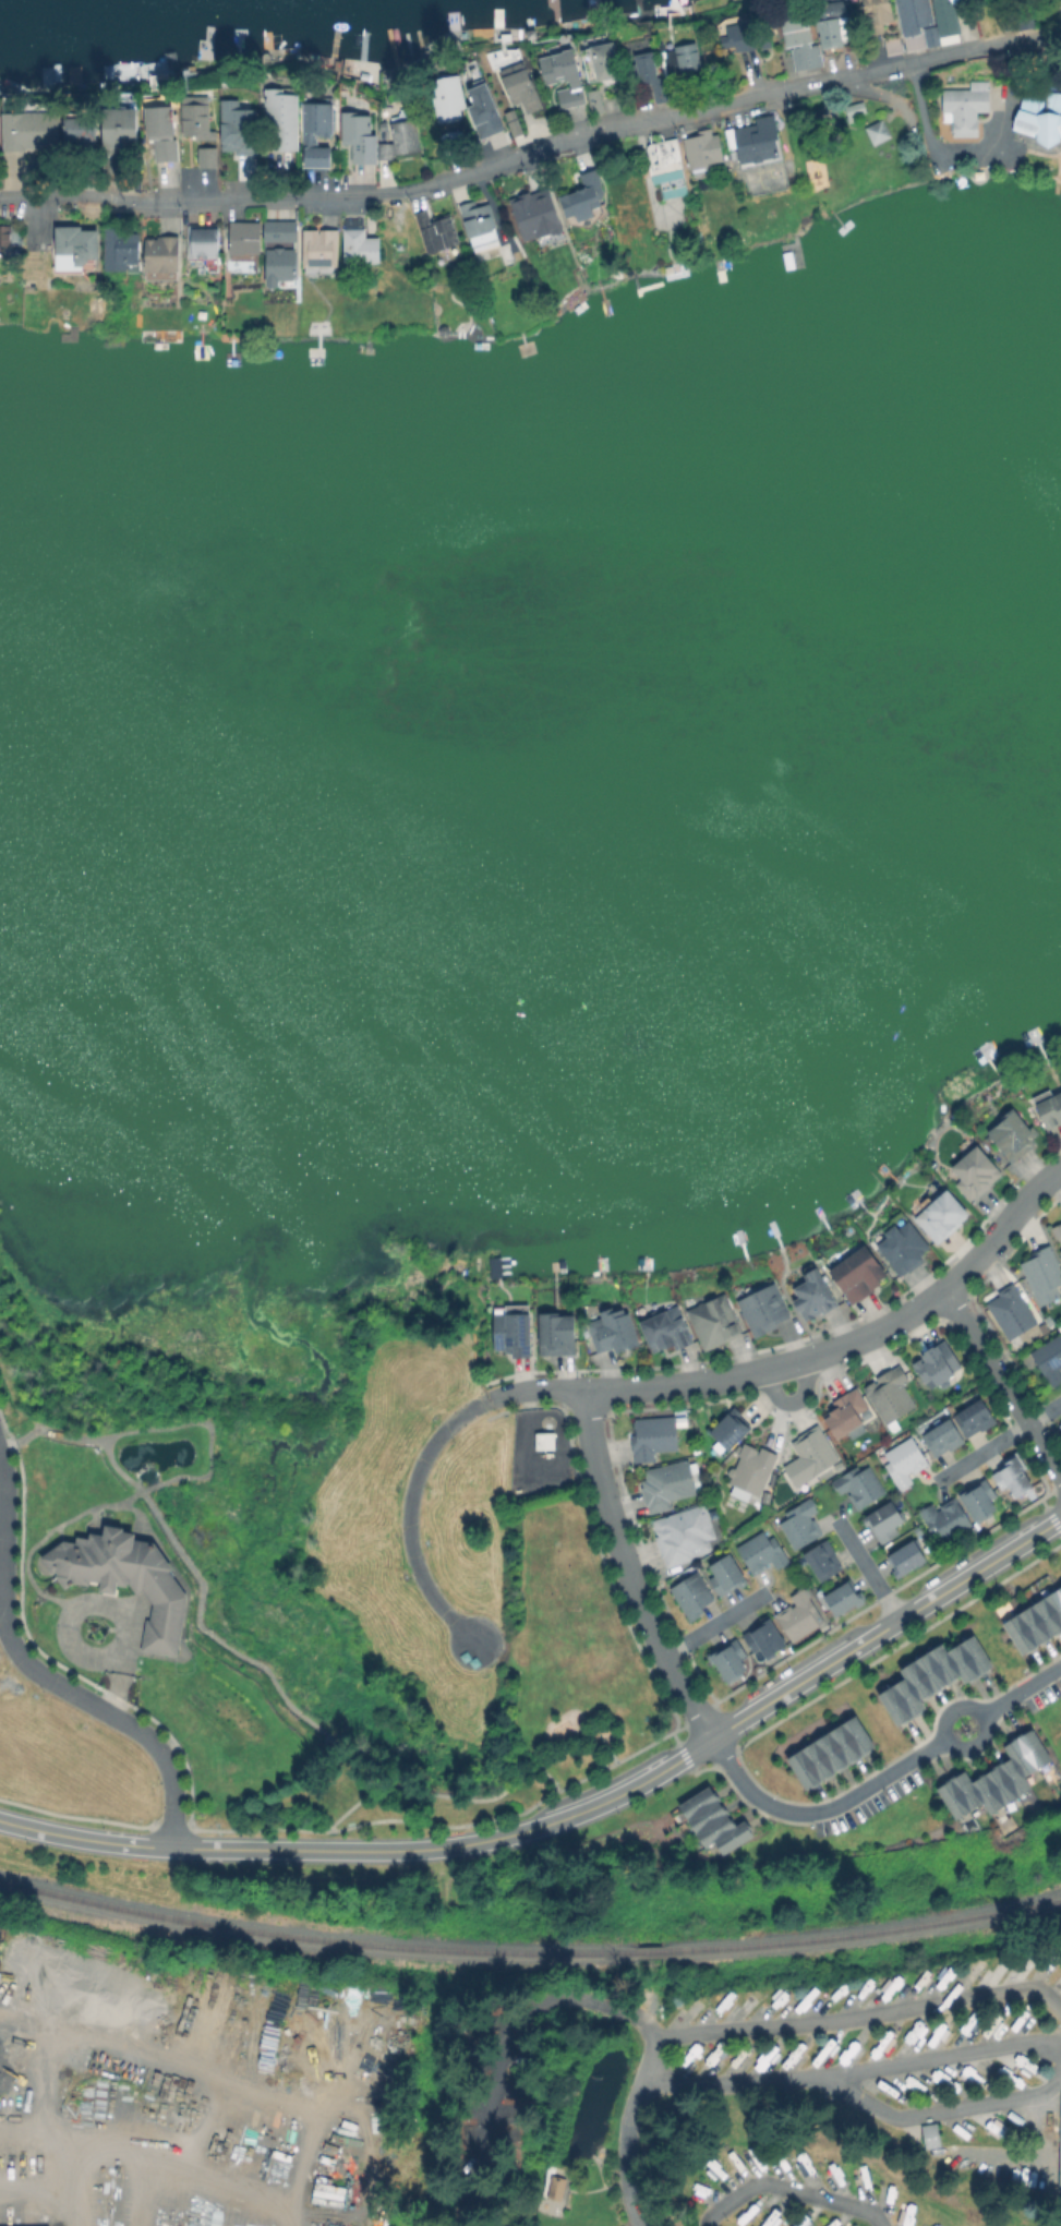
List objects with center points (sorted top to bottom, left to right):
building: (876, 15)
building: (913, 15)
building: (948, 17)
building: (829, 23)
building: (737, 36)
building: (796, 36)
building: (930, 37)
building: (688, 58)
building: (603, 61)
building: (651, 77)
building: (558, 80)
building: (518, 91)
building: (194, 98)
building: (445, 98)
building: (595, 103)
building: (966, 103)
building: (216, 110)
building: (481, 111)
building: (196, 121)
building: (279, 121)
building: (236, 128)
building: (1038, 128)
building: (878, 131)
road: (917, 133)
building: (162, 134)
building: (31, 135)
building: (314, 135)
building: (119, 136)
building: (81, 137)
building: (355, 137)
building: (405, 137)
building: (756, 140)
building: (702, 149)
building: (385, 151)
road: (532, 151)
building: (205, 156)
building: (670, 180)
building: (582, 200)
building: (532, 215)
building: (477, 220)
building: (279, 231)
building: (435, 233)
building: (4, 237)
building: (244, 238)
building: (203, 241)
building: (76, 246)
building: (361, 248)
building: (321, 249)
building: (121, 253)
building: (160, 255)
building: (280, 268)
building: (1050, 1105)
building: (1012, 1131)
building: (975, 1168)
building: (941, 1213)
building: (1058, 1227)
building: (903, 1243)
building: (857, 1272)
building: (1042, 1272)
building: (813, 1291)
building: (763, 1308)
building: (1010, 1309)
building: (715, 1320)
building: (664, 1327)
building: (511, 1328)
building: (555, 1328)
building: (612, 1328)
building: (1049, 1357)
road: (807, 1358)
building: (936, 1361)
road: (1003, 1382)
building: (890, 1392)
building: (848, 1412)
road: (1045, 1413)
building: (974, 1416)
building: (1060, 1421)
building: (728, 1427)
building: (941, 1434)
building: (653, 1435)
building: (544, 1440)
building: (809, 1452)
road: (984, 1452)
building: (902, 1458)
building: (839, 1465)
building: (752, 1467)
building: (1010, 1469)
building: (666, 1483)
building: (64, 1485)
building: (857, 1485)
building: (976, 1494)
building: (765, 1496)
road: (410, 1515)
building: (942, 1516)
building: (881, 1517)
building: (798, 1519)
building: (684, 1532)
building: (759, 1549)
building: (903, 1553)
building: (820, 1554)
road: (629, 1569)
road: (867, 1569)
building: (722, 1571)
building: (128, 1576)
building: (688, 1590)
building: (841, 1595)
building: (796, 1613)
building: (1035, 1621)
road: (718, 1624)
road: (887, 1628)
building: (760, 1634)
building: (724, 1657)
building: (930, 1676)
road: (46, 1677)
road: (1022, 1692)
park: (515, 1696)
road: (982, 1717)
road: (557, 1744)
building: (828, 1754)
building: (993, 1779)
road: (382, 1784)
road: (820, 1810)
building: (712, 1822)
road: (367, 1851)
railway: (867, 1930)
railway: (311, 1938)
railway: (649, 1950)
building: (1059, 1988)
road: (16, 2018)
road: (768, 2028)
road: (1046, 2035)
road: (130, 2037)
road: (511, 2045)
building: (877, 2045)
building: (798, 2047)
building: (846, 2050)
building: (821, 2051)
building: (738, 2053)
building: (762, 2057)
building: (704, 2063)
road: (855, 2071)
road: (945, 2110)
road: (22, 2115)
building: (927, 2133)
building: (1059, 2141)
road: (787, 2186)
road: (28, 2187)
building: (554, 2187)

